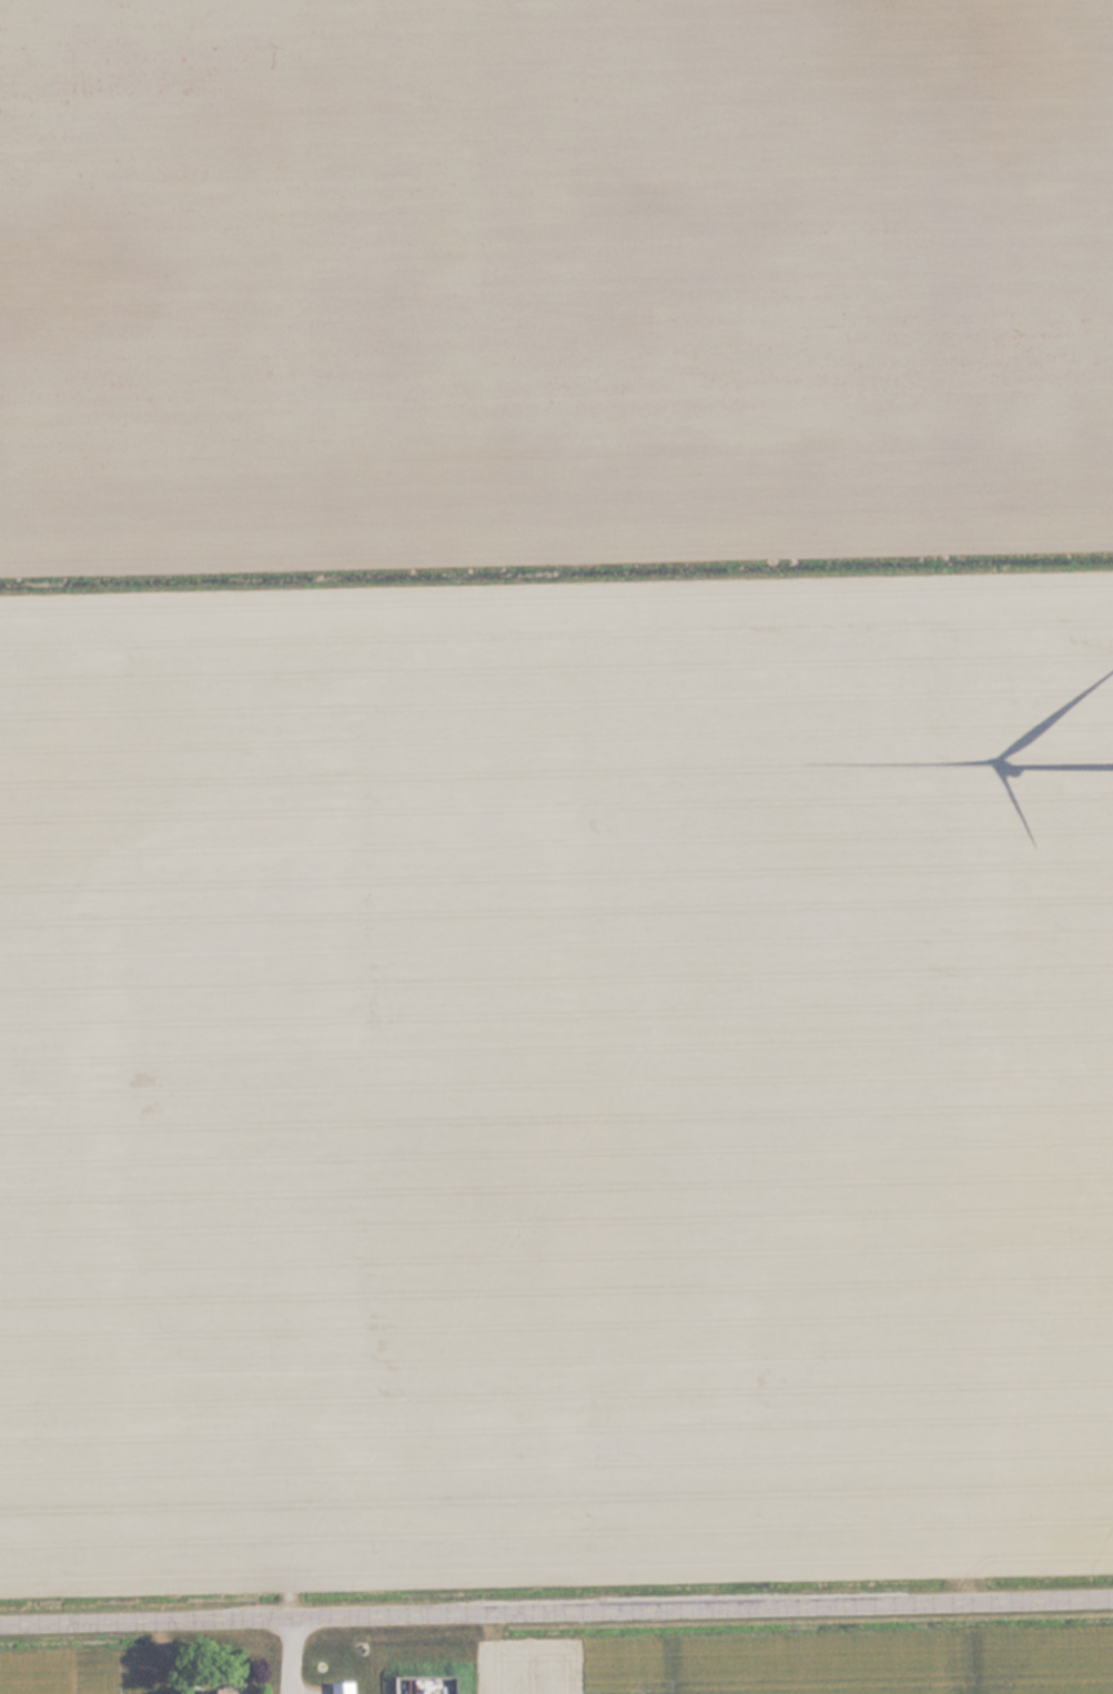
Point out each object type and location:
road: (556, 1613)
building: (346, 1688)

